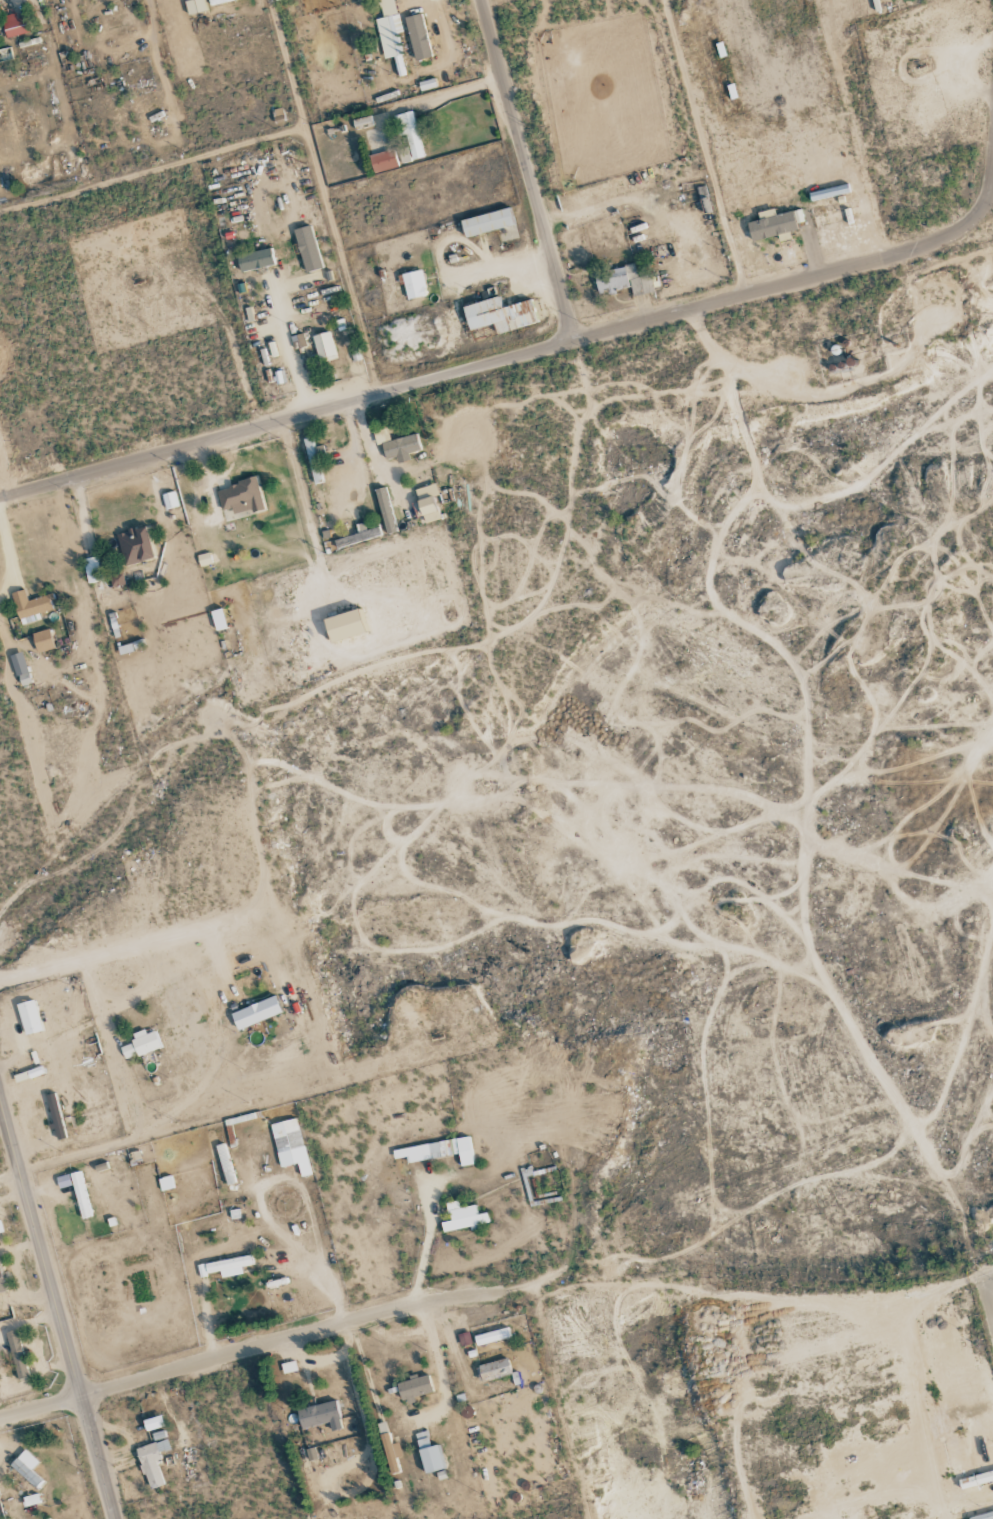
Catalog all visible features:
building: (219, 1)
building: (194, 6)
building: (15, 25)
building: (389, 32)
building: (362, 122)
road: (703, 147)
building: (383, 161)
road: (523, 170)
road: (990, 181)
building: (490, 224)
building: (773, 224)
building: (307, 249)
building: (255, 260)
building: (622, 281)
building: (413, 284)
building: (499, 315)
building: (324, 347)
road: (500, 359)
road: (226, 360)
building: (280, 377)
building: (396, 444)
building: (314, 461)
road: (300, 492)
building: (240, 496)
building: (169, 500)
building: (426, 504)
building: (385, 510)
building: (357, 537)
building: (135, 545)
building: (204, 559)
building: (91, 570)
building: (117, 580)
building: (30, 607)
building: (218, 619)
building: (343, 626)
building: (42, 641)
building: (24, 679)
building: (256, 1012)
building: (140, 1044)
building: (289, 1144)
building: (437, 1151)
building: (63, 1180)
building: (462, 1217)
building: (0, 1235)
road: (422, 1258)
building: (225, 1266)
road: (987, 1274)
building: (1, 1282)
road: (987, 1295)
road: (58, 1306)
building: (492, 1336)
road: (251, 1350)
building: (17, 1354)
building: (493, 1370)
building: (414, 1387)
building: (320, 1415)
building: (153, 1423)
building: (428, 1453)
building: (311, 1454)
building: (390, 1454)
building: (152, 1460)
building: (26, 1467)
building: (976, 1479)
building: (983, 1516)

